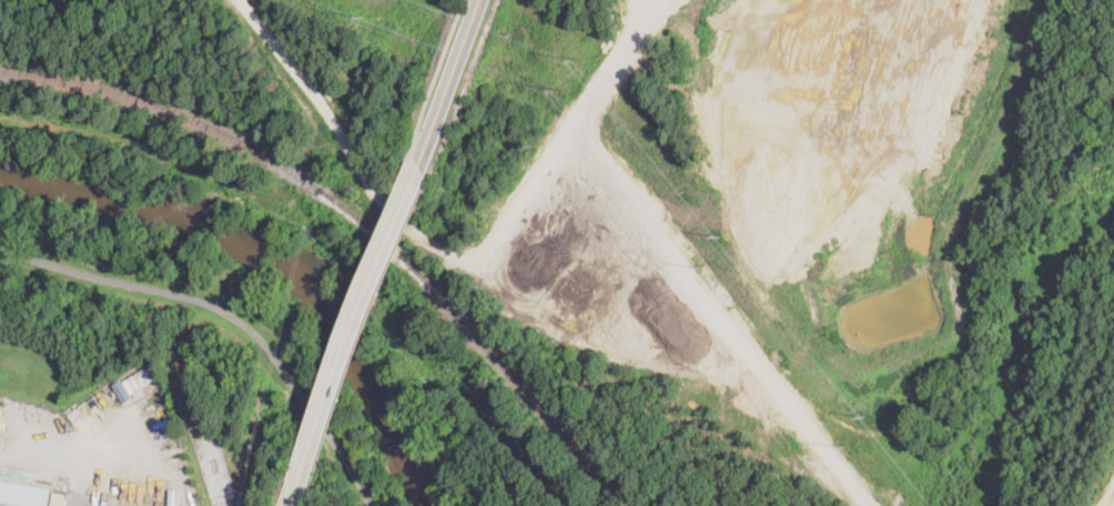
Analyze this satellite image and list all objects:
road: (436, 75)
road: (448, 82)
landfill: (240, 88)
landfill: (814, 242)
park: (176, 250)
road: (230, 312)
road: (350, 323)
road: (574, 331)
road: (356, 334)
road: (756, 418)
park: (448, 444)
building: (24, 492)
building: (58, 497)
road: (282, 499)
road: (1111, 503)
road: (288, 504)

